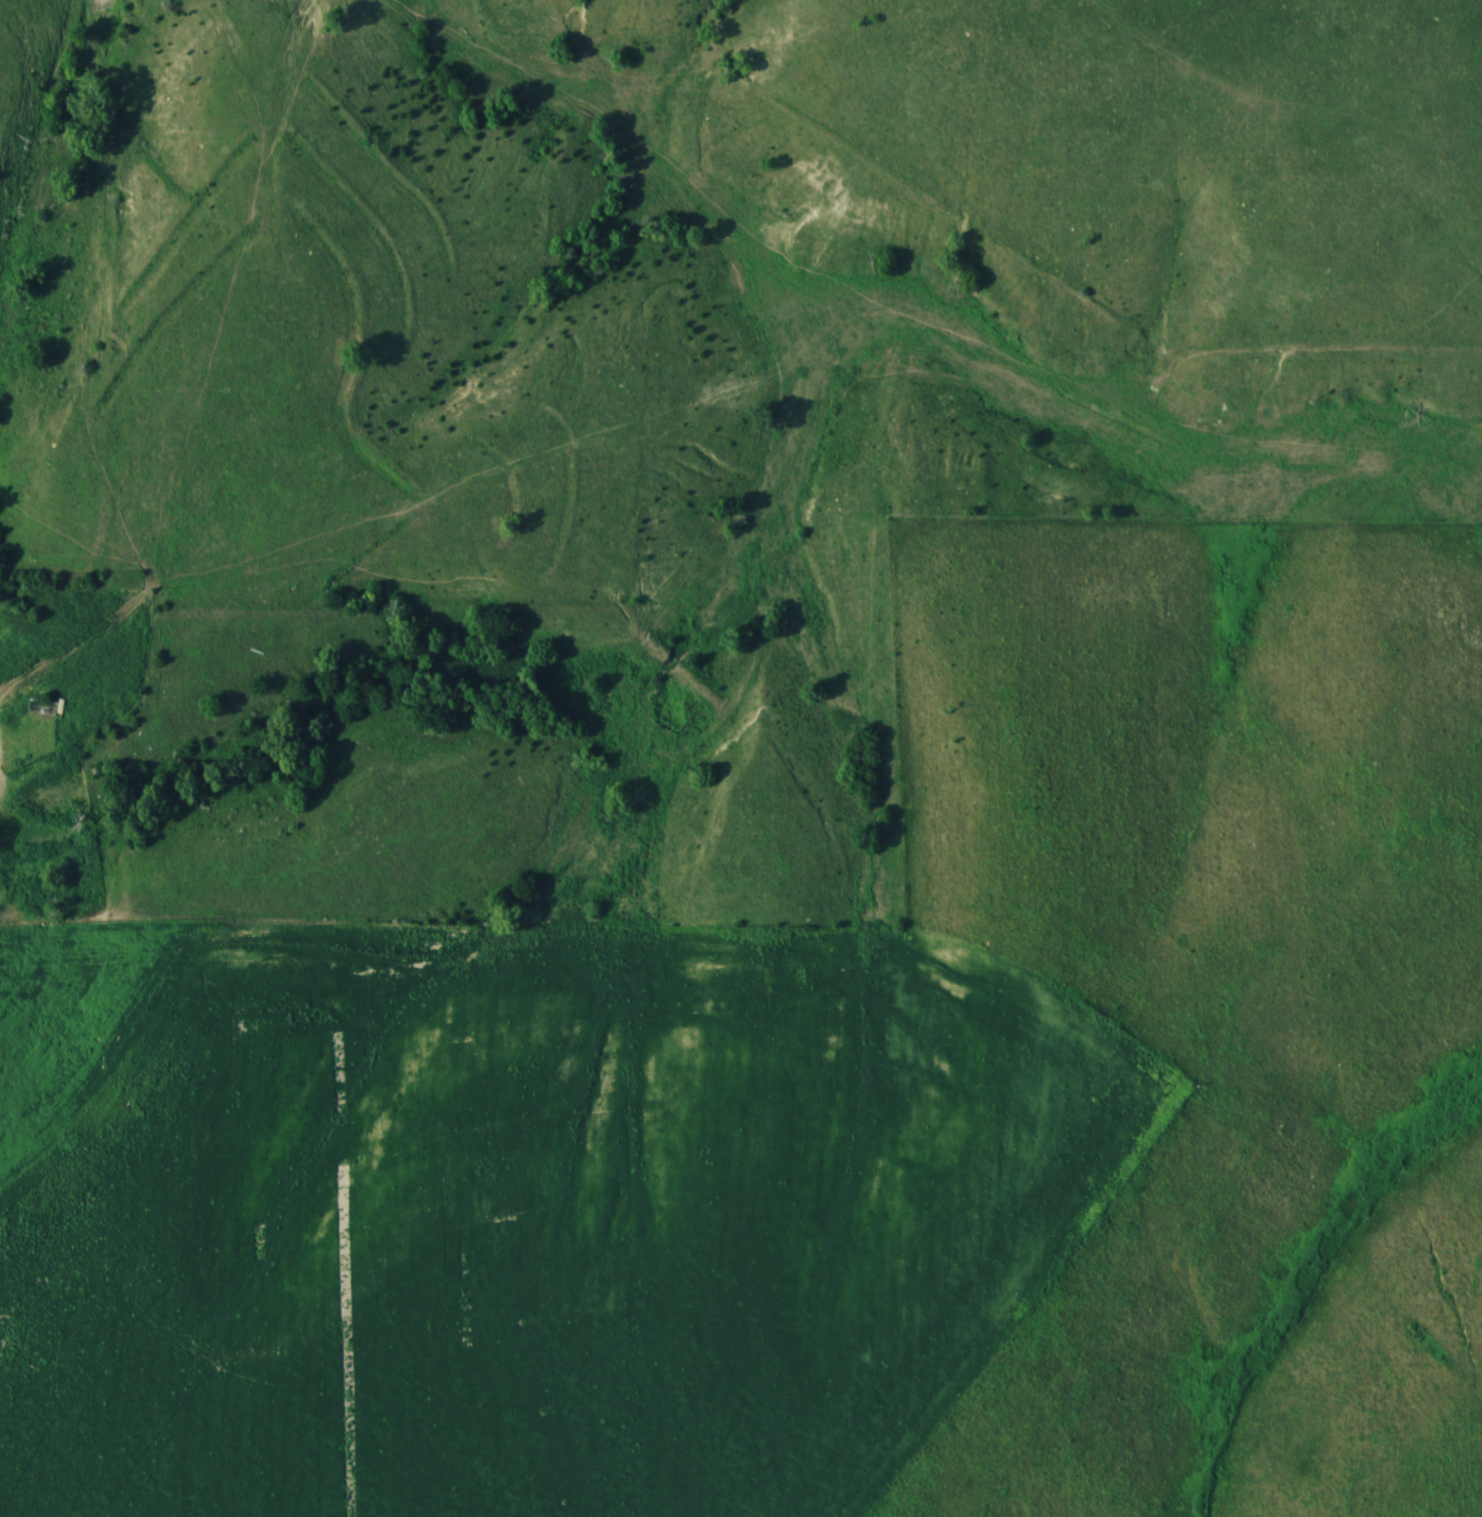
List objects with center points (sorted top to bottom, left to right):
building: (42, 707)

